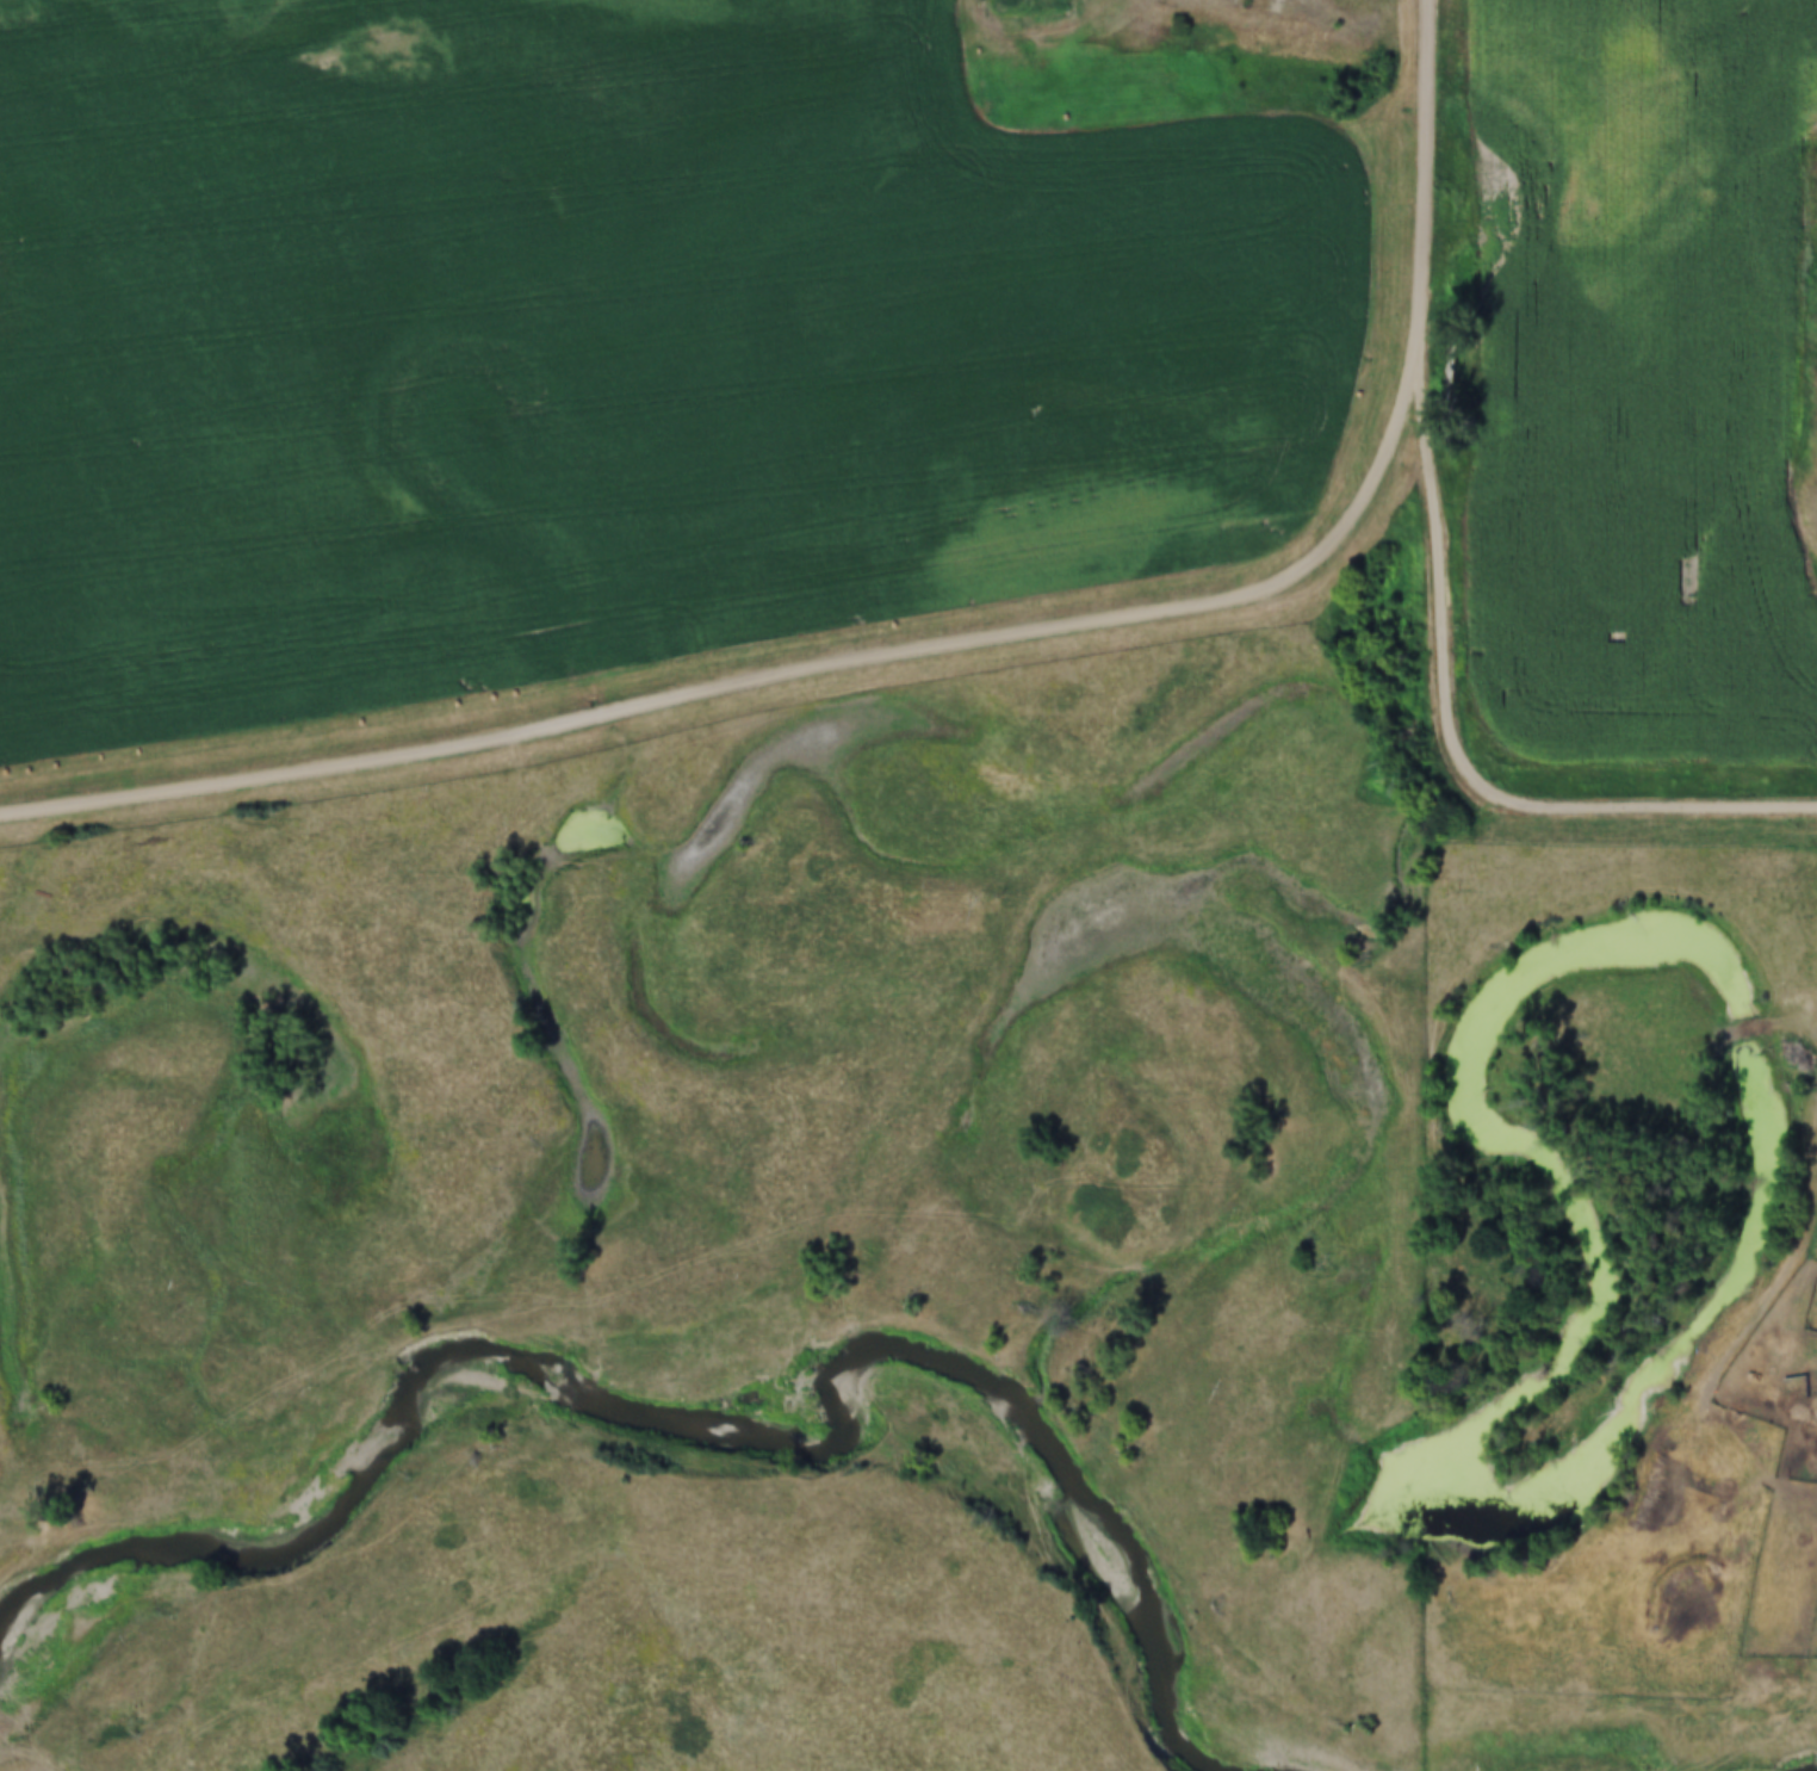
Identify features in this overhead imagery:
road: (1435, 188)
quarry: (1805, 357)
road: (1441, 593)
road: (769, 685)
road: (1650, 806)

